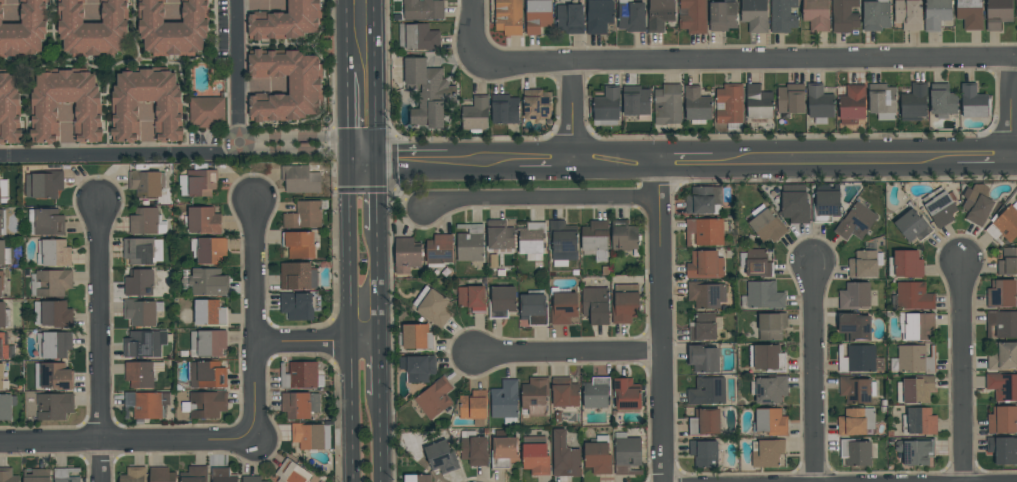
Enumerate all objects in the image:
building: (1016, 7)
building: (423, 9)
building: (998, 13)
building: (660, 14)
building: (908, 14)
building: (936, 14)
building: (970, 14)
building: (722, 15)
building: (754, 15)
building: (816, 15)
building: (844, 15)
building: (876, 15)
building: (537, 16)
building: (598, 16)
building: (631, 16)
building: (692, 16)
building: (783, 16)
building: (508, 17)
building: (569, 18)
road: (136, 21)
building: (287, 21)
road: (54, 22)
building: (93, 28)
building: (174, 28)
building: (24, 30)
road: (470, 32)
road: (348, 35)
building: (418, 37)
road: (278, 45)
road: (743, 62)
road: (239, 70)
road: (379, 81)
building: (306, 85)
building: (427, 92)
building: (790, 98)
building: (942, 100)
building: (972, 100)
building: (882, 101)
building: (636, 102)
building: (758, 102)
building: (914, 102)
building: (819, 103)
building: (125, 104)
building: (536, 104)
building: (668, 104)
building: (852, 104)
building: (44, 105)
building: (696, 105)
building: (607, 106)
building: (730, 106)
road: (349, 107)
building: (504, 109)
road: (1011, 109)
building: (9, 110)
road: (114, 112)
building: (208, 112)
road: (571, 112)
road: (27, 113)
road: (185, 113)
building: (476, 114)
road: (364, 138)
road: (294, 142)
traffic signals: (349, 143)
road: (364, 153)
road: (121, 154)
road: (1015, 157)
road: (985, 158)
road: (834, 159)
road: (616, 161)
road: (686, 161)
road: (414, 162)
road: (484, 162)
road: (546, 162)
traffic signals: (380, 163)
building: (300, 179)
building: (146, 182)
building: (198, 182)
building: (0, 183)
building: (43, 184)
building: (0, 196)
road: (380, 196)
building: (703, 200)
road: (541, 202)
building: (977, 204)
building: (794, 206)
building: (827, 207)
building: (941, 210)
building: (303, 215)
building: (204, 220)
building: (2, 222)
building: (46, 222)
building: (147, 222)
building: (856, 222)
building: (1004, 226)
building: (769, 227)
building: (915, 227)
building: (705, 231)
building: (499, 235)
building: (624, 236)
building: (595, 239)
building: (532, 240)
building: (469, 242)
building: (563, 242)
road: (350, 243)
building: (299, 244)
building: (142, 250)
building: (208, 250)
building: (439, 251)
building: (53, 253)
building: (4, 254)
building: (406, 254)
building: (1008, 263)
building: (759, 264)
building: (705, 265)
building: (864, 265)
building: (908, 265)
building: (297, 276)
building: (1, 282)
building: (50, 282)
building: (208, 282)
building: (139, 283)
road: (381, 286)
building: (1003, 294)
building: (706, 295)
building: (764, 295)
building: (856, 296)
building: (914, 296)
building: (471, 298)
building: (502, 302)
building: (625, 303)
building: (595, 305)
building: (297, 306)
building: (433, 306)
building: (563, 306)
building: (533, 308)
road: (257, 310)
building: (142, 311)
building: (209, 313)
building: (52, 314)
building: (4, 315)
road: (661, 321)
building: (772, 325)
building: (1002, 325)
building: (854, 326)
building: (919, 326)
building: (705, 327)
building: (416, 337)
road: (99, 342)
building: (208, 342)
building: (54, 344)
building: (145, 344)
road: (319, 345)
building: (6, 347)
road: (567, 351)
building: (1002, 356)
building: (768, 358)
building: (703, 359)
building: (858, 359)
building: (915, 359)
building: (418, 367)
road: (382, 369)
road: (962, 371)
road: (814, 372)
building: (139, 374)
building: (206, 374)
building: (299, 375)
building: (53, 376)
building: (2, 378)
building: (1003, 386)
building: (771, 389)
building: (855, 390)
building: (918, 390)
building: (564, 392)
building: (708, 392)
building: (596, 393)
building: (627, 395)
building: (535, 396)
building: (434, 397)
building: (505, 401)
building: (205, 404)
building: (147, 405)
building: (299, 405)
building: (6, 406)
building: (54, 406)
building: (473, 406)
road: (352, 413)
building: (1003, 420)
building: (706, 422)
building: (922, 422)
building: (771, 423)
building: (853, 423)
building: (310, 436)
road: (382, 438)
road: (133, 442)
building: (473, 448)
building: (1003, 449)
building: (503, 452)
building: (857, 452)
building: (915, 452)
building: (704, 453)
building: (627, 454)
building: (769, 454)
building: (535, 455)
building: (564, 455)
building: (598, 455)
building: (441, 457)
building: (292, 472)
building: (194, 474)
building: (8, 475)
building: (36, 475)
building: (65, 475)
building: (133, 475)
building: (163, 475)
building: (222, 475)
building: (417, 478)
building: (251, 479)

